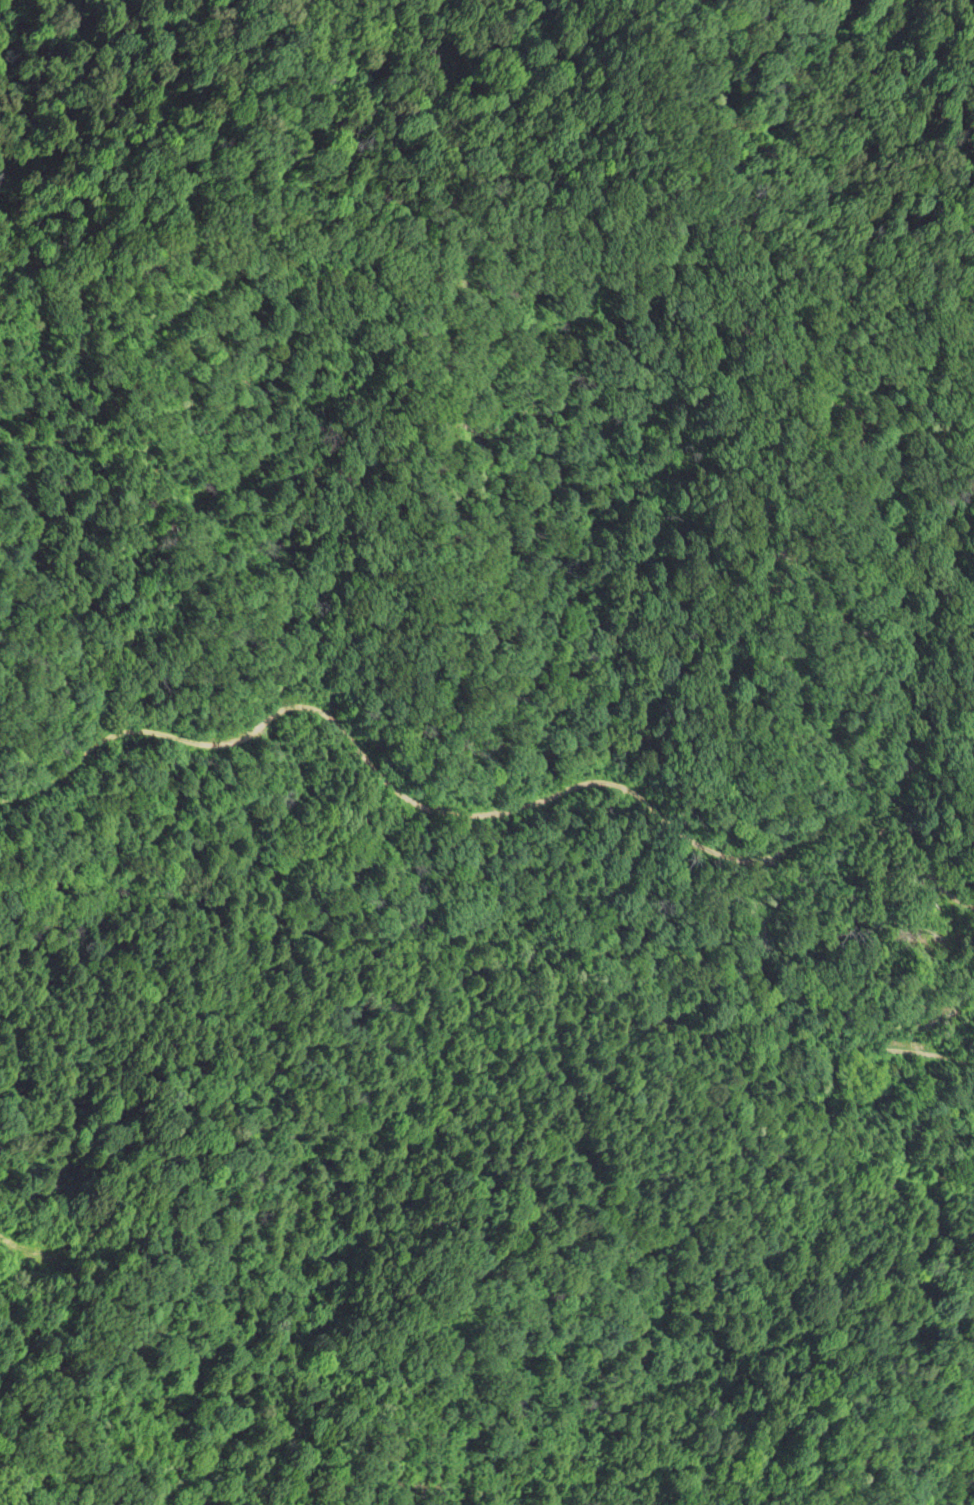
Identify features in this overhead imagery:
road: (794, 1115)

